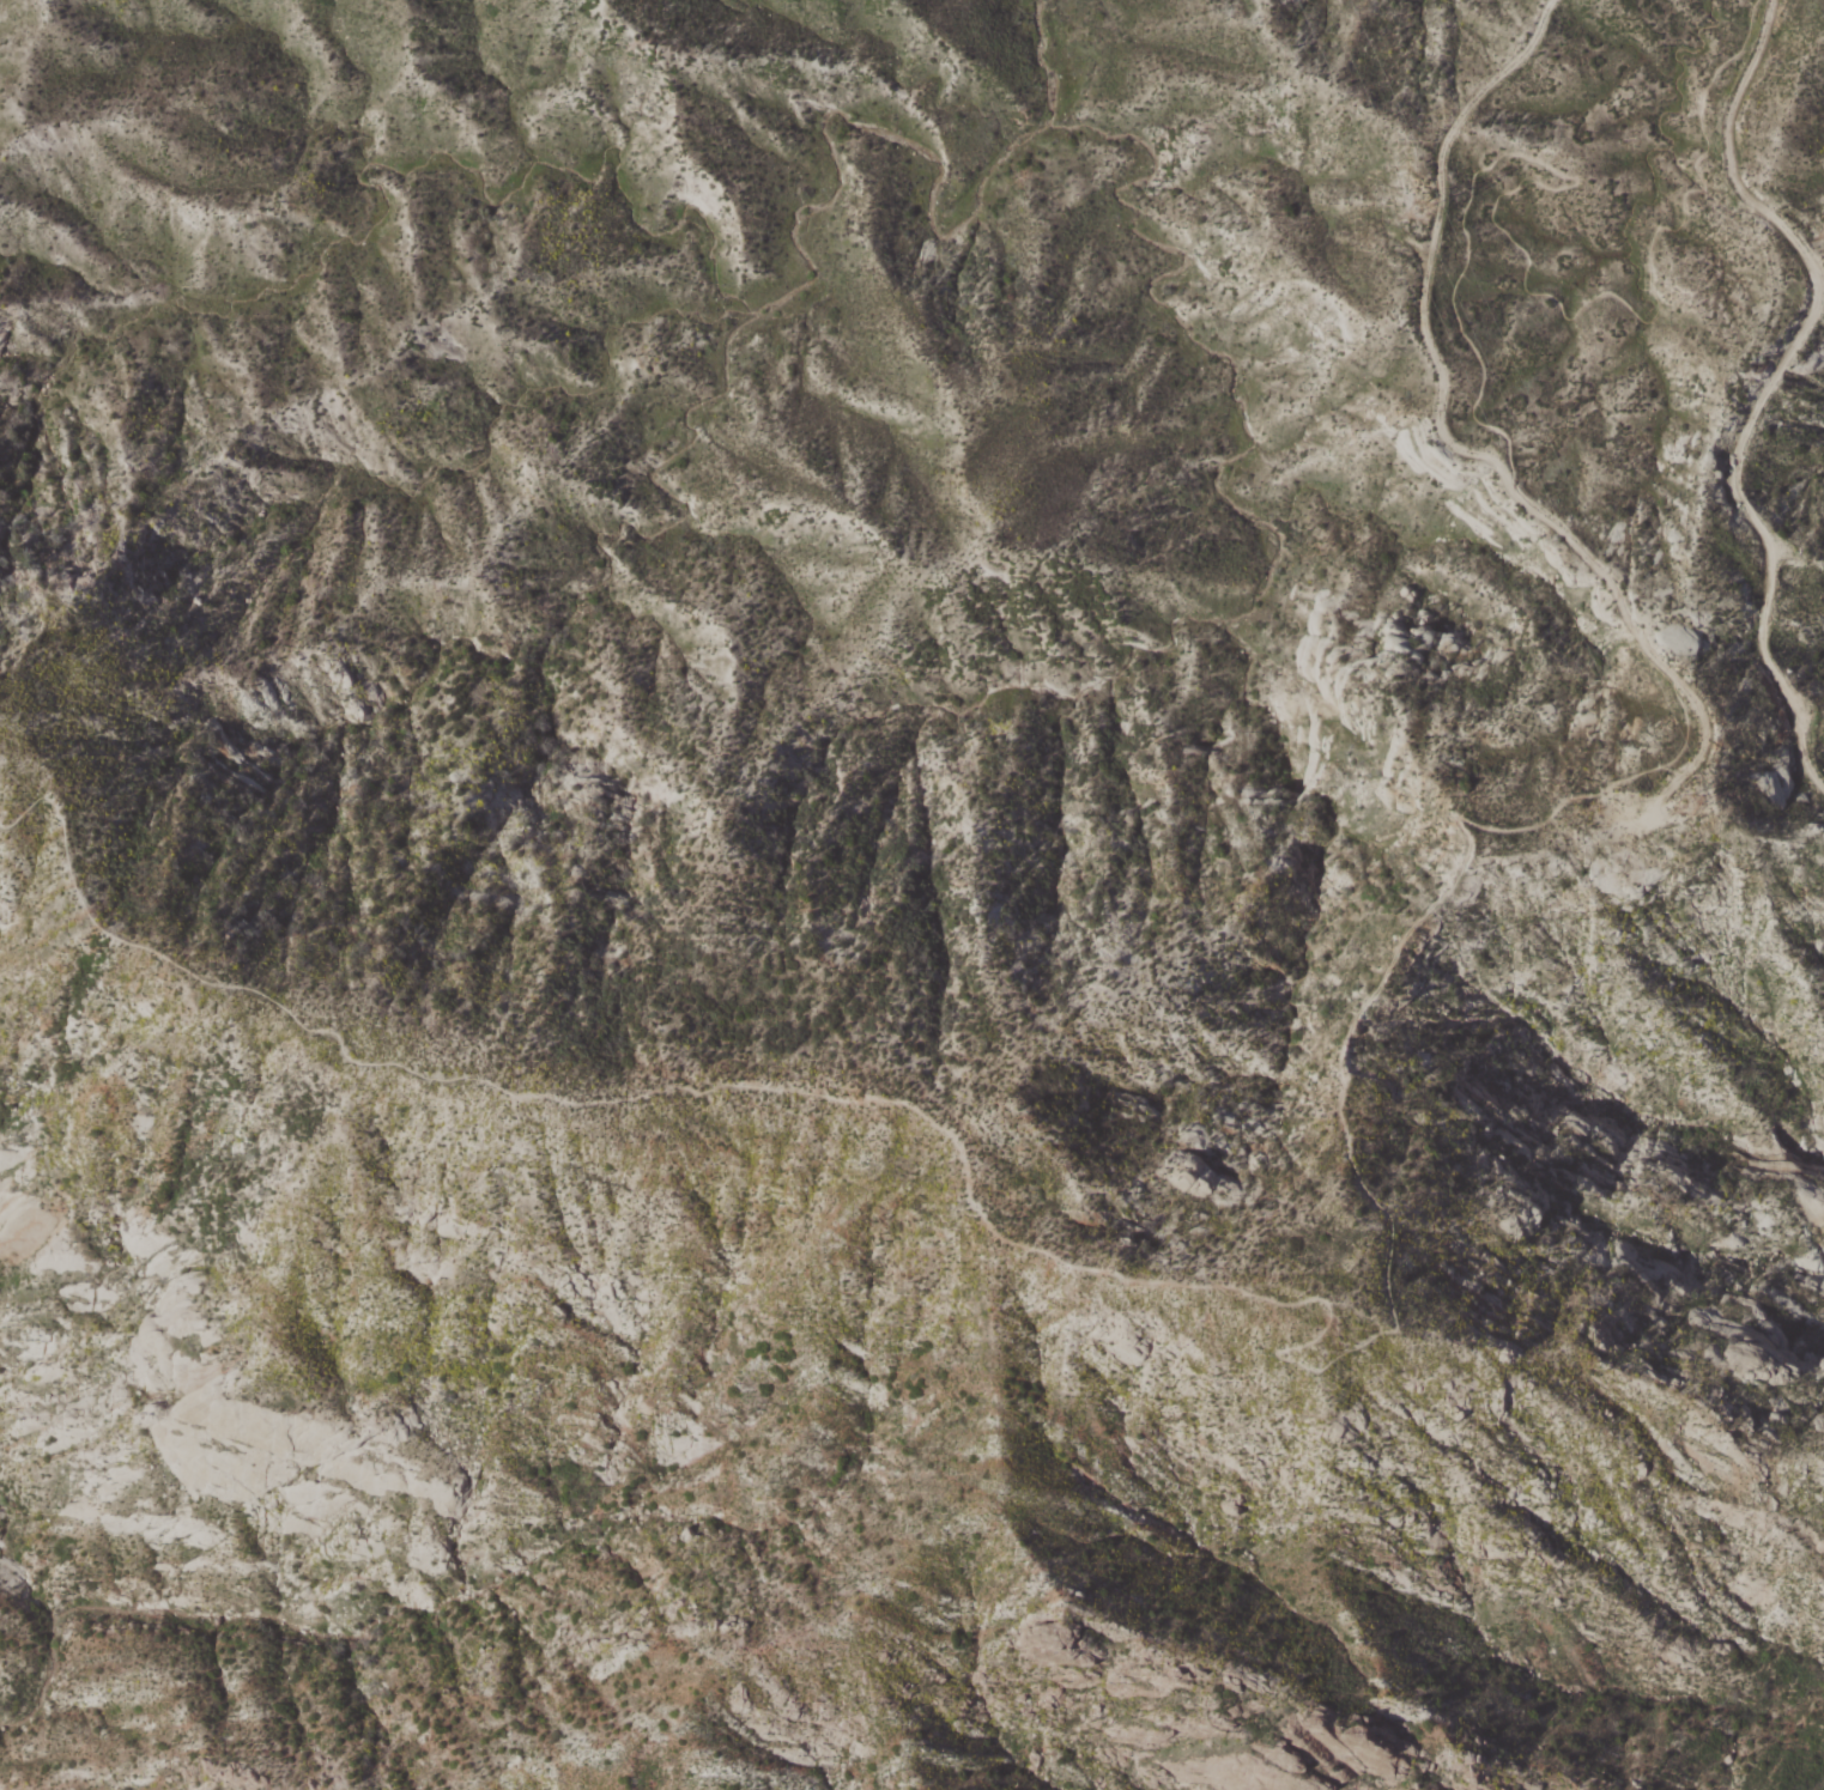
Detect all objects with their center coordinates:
power tower: (1424, 210)
road: (1520, 243)
road: (1436, 245)
road: (1770, 384)
road: (1598, 565)
road: (1705, 747)
power tower: (1630, 836)
road: (1111, 1274)

